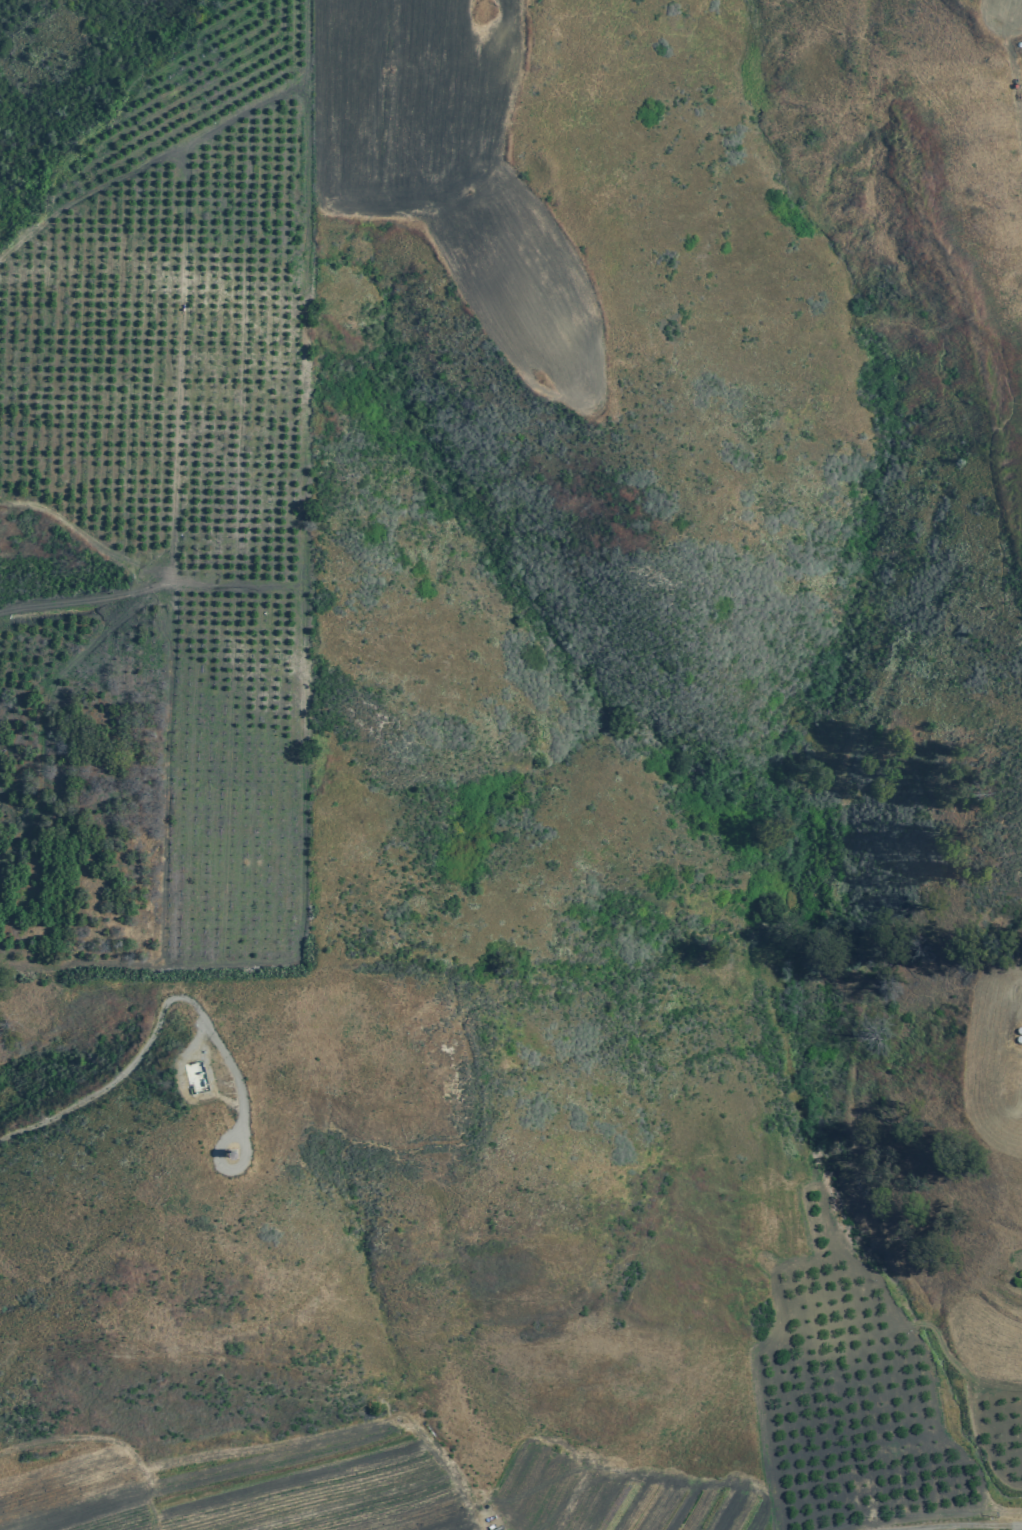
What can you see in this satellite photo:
road: (1010, 62)
road: (383, 107)
road: (307, 161)
crop: (454, 172)
crop: (967, 251)
road: (178, 365)
road: (140, 571)
road: (86, 599)
road: (298, 773)
road: (133, 1060)
building: (196, 1079)
crop: (240, 1479)
road: (959, 1529)
road: (1020, 1529)

